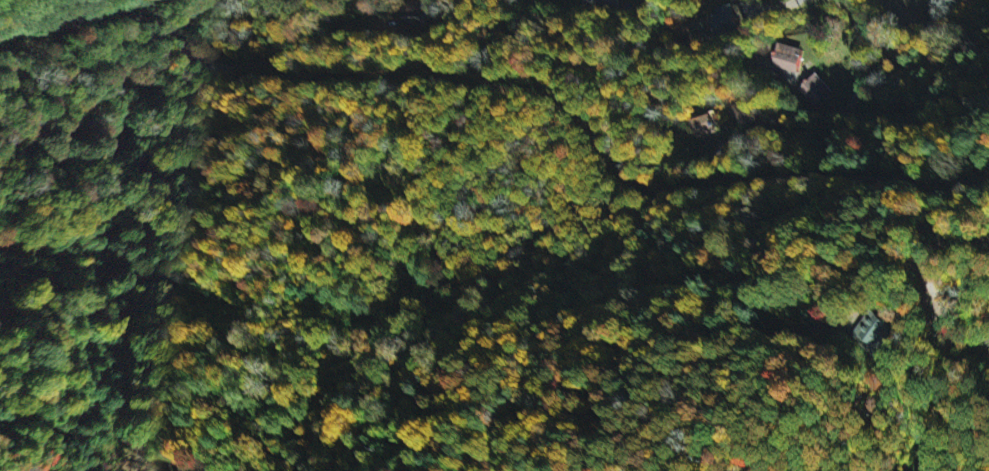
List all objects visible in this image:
building: (736, 18)
road: (884, 33)
building: (790, 59)
building: (816, 89)
road: (578, 97)
building: (704, 127)
road: (333, 171)
road: (904, 275)
building: (873, 330)
road: (156, 416)

